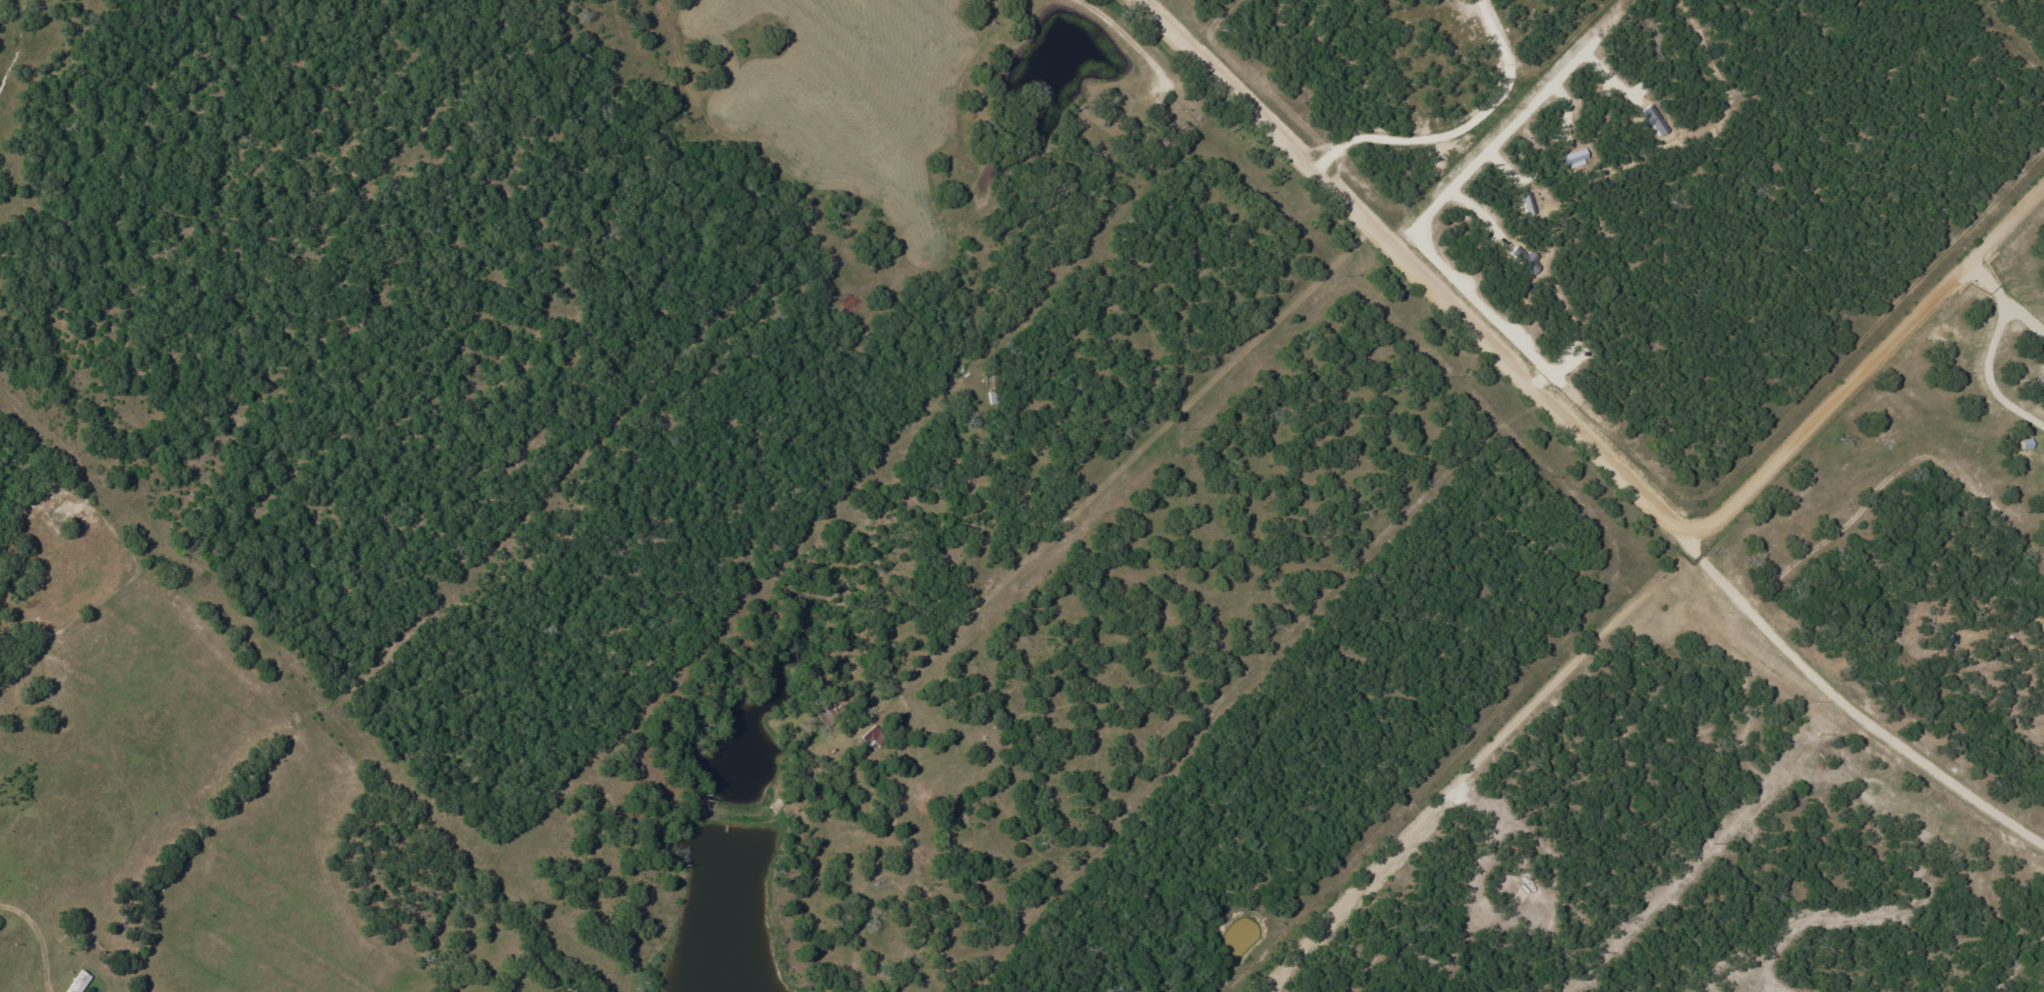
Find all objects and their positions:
road: (1586, 422)

